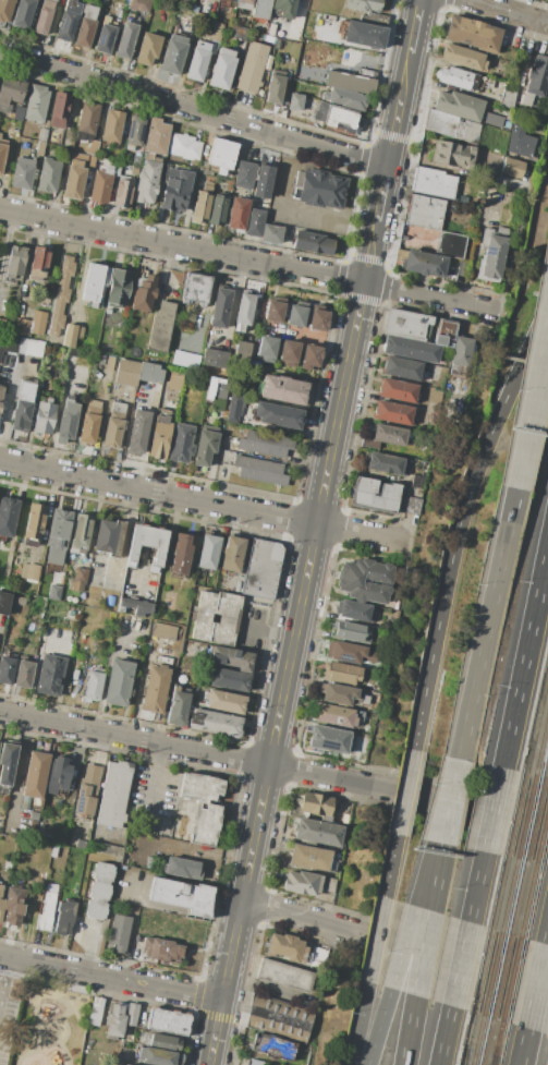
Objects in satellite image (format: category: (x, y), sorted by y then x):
building: (244, 4)
building: (363, 4)
building: (139, 5)
building: (284, 8)
building: (5, 9)
building: (261, 10)
road: (508, 12)
building: (23, 13)
building: (44, 17)
building: (374, 19)
building: (66, 21)
building: (85, 25)
building: (216, 31)
building: (239, 32)
building: (269, 32)
building: (472, 34)
building: (106, 35)
building: (363, 35)
building: (125, 40)
building: (148, 49)
building: (173, 55)
building: (462, 57)
building: (199, 60)
building: (252, 66)
building: (222, 68)
building: (491, 72)
building: (367, 73)
building: (459, 77)
building: (350, 82)
building: (535, 82)
building: (276, 86)
building: (10, 93)
building: (508, 95)
building: (345, 98)
building: (295, 101)
building: (36, 104)
building: (459, 105)
road: (193, 108)
building: (60, 109)
building: (19, 112)
building: (508, 117)
building: (337, 118)
building: (490, 119)
building: (87, 121)
building: (507, 123)
building: (452, 125)
building: (112, 126)
building: (134, 132)
building: (0, 135)
building: (41, 135)
building: (156, 136)
building: (521, 143)
building: (184, 146)
building: (92, 148)
building: (39, 149)
building: (2, 154)
building: (221, 155)
building: (451, 155)
building: (135, 159)
building: (78, 160)
building: (90, 162)
building: (512, 168)
building: (133, 169)
building: (23, 172)
building: (245, 174)
building: (48, 177)
building: (148, 181)
building: (433, 181)
building: (74, 182)
building: (263, 182)
building: (100, 184)
building: (319, 189)
building: (175, 190)
building: (123, 192)
building: (203, 203)
building: (450, 206)
building: (218, 209)
building: (425, 210)
building: (238, 214)
building: (255, 221)
building: (271, 233)
road: (4, 235)
building: (419, 238)
building: (313, 243)
building: (450, 244)
building: (491, 254)
road: (248, 259)
building: (14, 262)
building: (38, 262)
building: (424, 263)
building: (462, 267)
road: (80, 274)
building: (95, 283)
building: (118, 289)
building: (195, 290)
building: (144, 293)
building: (60, 295)
building: (220, 306)
building: (275, 308)
building: (244, 312)
building: (296, 313)
building: (318, 318)
building: (31, 324)
building: (2, 325)
building: (406, 325)
building: (160, 327)
building: (72, 334)
building: (446, 334)
building: (9, 344)
building: (31, 348)
building: (266, 348)
building: (411, 349)
building: (72, 351)
building: (461, 351)
building: (289, 352)
building: (242, 353)
building: (310, 356)
building: (215, 358)
building: (98, 359)
building: (401, 368)
building: (126, 372)
building: (149, 373)
building: (175, 379)
road: (529, 385)
building: (283, 389)
building: (219, 390)
building: (397, 390)
building: (1, 392)
road: (8, 396)
building: (23, 404)
building: (431, 404)
building: (233, 408)
building: (392, 412)
road: (54, 415)
building: (277, 415)
building: (44, 416)
road: (531, 417)
building: (66, 421)
building: (89, 422)
building: (114, 425)
building: (389, 434)
building: (136, 435)
building: (159, 436)
building: (181, 443)
building: (266, 443)
building: (369, 443)
building: (205, 447)
building: (387, 463)
building: (260, 470)
building: (419, 481)
building: (364, 489)
road: (203, 500)
building: (410, 505)
building: (8, 516)
road: (42, 522)
road: (458, 522)
building: (34, 523)
road: (313, 532)
building: (80, 535)
building: (58, 537)
building: (109, 537)
road: (122, 542)
building: (147, 546)
building: (207, 552)
building: (232, 554)
building: (181, 555)
building: (261, 569)
building: (29, 572)
building: (78, 580)
building: (365, 580)
building: (58, 582)
building: (40, 592)
building: (53, 592)
building: (20, 601)
building: (110, 601)
building: (4, 602)
building: (135, 606)
building: (355, 610)
building: (215, 616)
building: (131, 622)
road: (486, 622)
building: (382, 625)
road: (265, 629)
building: (163, 631)
building: (354, 631)
building: (350, 653)
road: (524, 656)
building: (78, 658)
building: (232, 658)
building: (163, 659)
road: (37, 664)
building: (7, 669)
building: (23, 673)
building: (74, 674)
building: (343, 674)
building: (50, 675)
road: (103, 675)
building: (229, 679)
building: (119, 682)
building: (94, 686)
building: (156, 688)
building: (342, 694)
building: (219, 700)
building: (178, 709)
building: (373, 712)
building: (334, 715)
railway: (536, 722)
building: (215, 723)
building: (328, 738)
railway: (541, 747)
building: (7, 765)
road: (273, 766)
railway: (546, 771)
road: (14, 776)
building: (58, 776)
building: (35, 777)
road: (151, 784)
building: (199, 787)
building: (88, 790)
road: (404, 791)
building: (114, 794)
road: (447, 800)
road: (451, 801)
building: (25, 802)
building: (316, 806)
road: (492, 809)
building: (34, 815)
railway: (515, 816)
railway: (525, 819)
railway: (535, 820)
building: (0, 821)
building: (206, 824)
building: (319, 834)
building: (72, 836)
railway: (541, 837)
building: (80, 844)
building: (53, 850)
building: (309, 858)
road: (389, 866)
building: (183, 867)
road: (425, 873)
road: (437, 876)
building: (302, 882)
building: (330, 886)
road: (476, 886)
building: (99, 891)
railway: (499, 894)
building: (183, 895)
railway: (509, 896)
railway: (517, 898)
railway: (527, 901)
building: (1, 904)
building: (13, 906)
road: (167, 907)
building: (47, 909)
building: (64, 917)
building: (118, 934)
road: (546, 935)
road: (375, 939)
road: (393, 945)
road: (402, 946)
building: (288, 948)
building: (161, 949)
road: (423, 953)
building: (318, 956)
road: (460, 964)
railway: (482, 972)
railway: (491, 975)
building: (284, 976)
road: (110, 977)
railway: (500, 978)
railway: (511, 981)
road: (535, 985)
road: (263, 987)
building: (94, 1010)
building: (131, 1014)
building: (279, 1017)
building: (168, 1021)
building: (114, 1022)
road: (357, 1022)
road: (52, 1026)
road: (378, 1026)
park: (52, 1027)
road: (409, 1030)
railway: (468, 1031)
road: (443, 1036)
railway: (477, 1041)
building: (163, 1042)
railway: (486, 1042)
railway: (497, 1044)
building: (273, 1046)
road: (522, 1046)
building: (157, 1056)
railway: (463, 1056)
railway: (463, 1056)
railway: (492, 1061)
building: (256, 1062)
building: (122, 1064)
building: (126, 1064)

